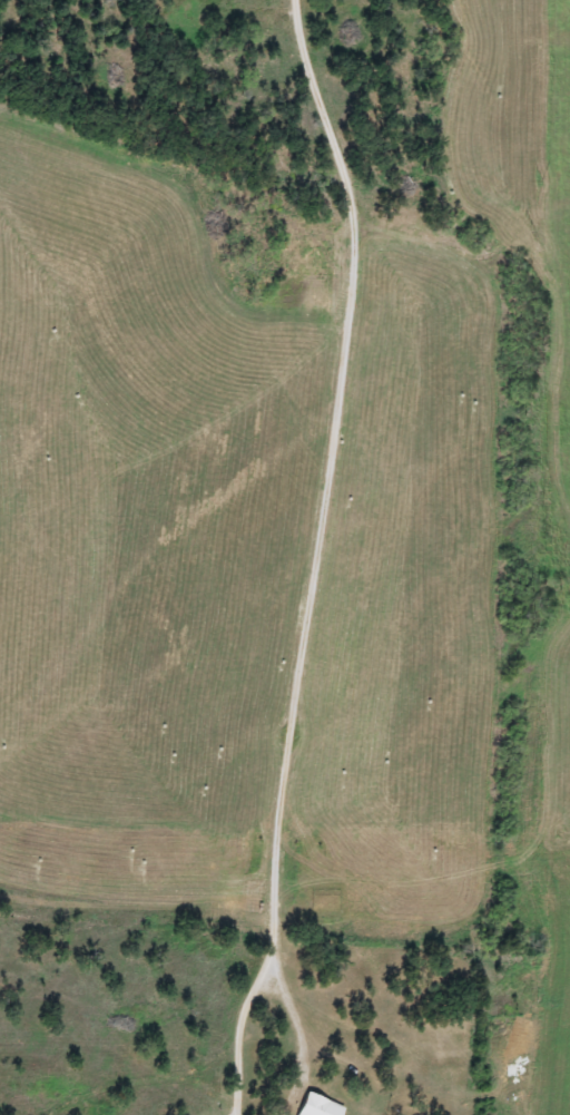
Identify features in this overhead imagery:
building: (178, 12)
road: (320, 557)
building: (306, 1104)

